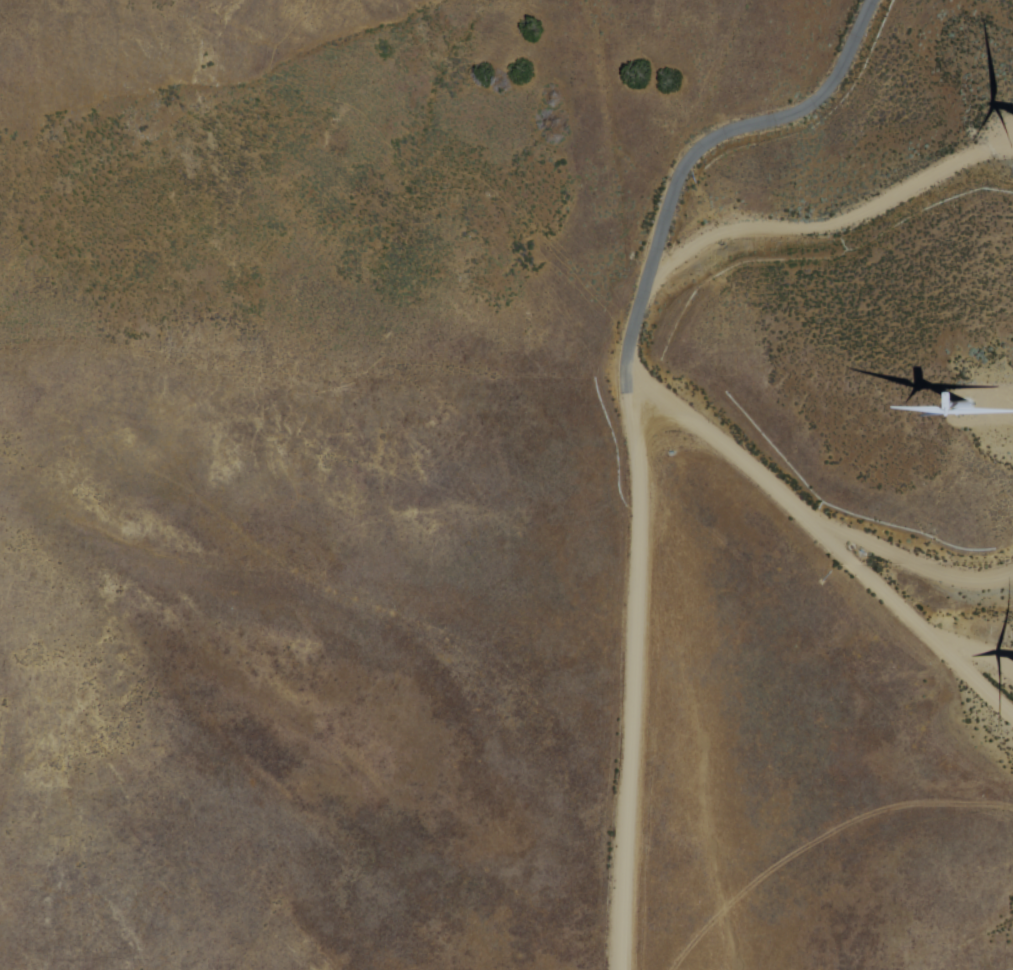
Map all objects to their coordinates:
wind turbine: (940, 371)
road: (633, 428)

